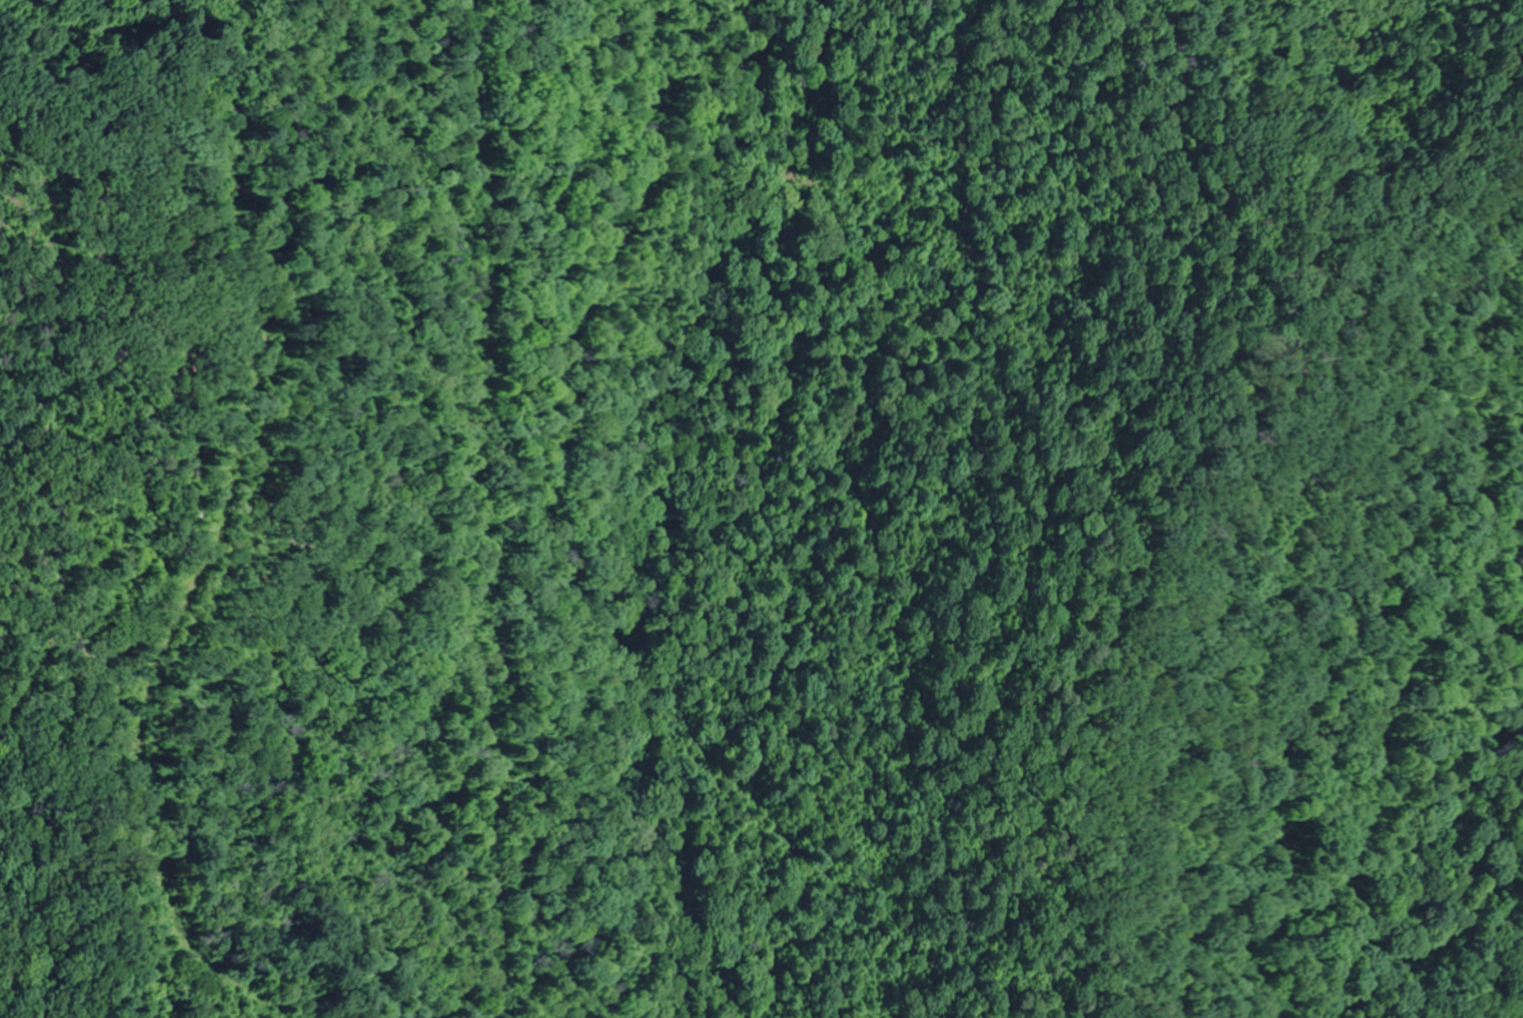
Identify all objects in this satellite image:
road: (774, 396)

